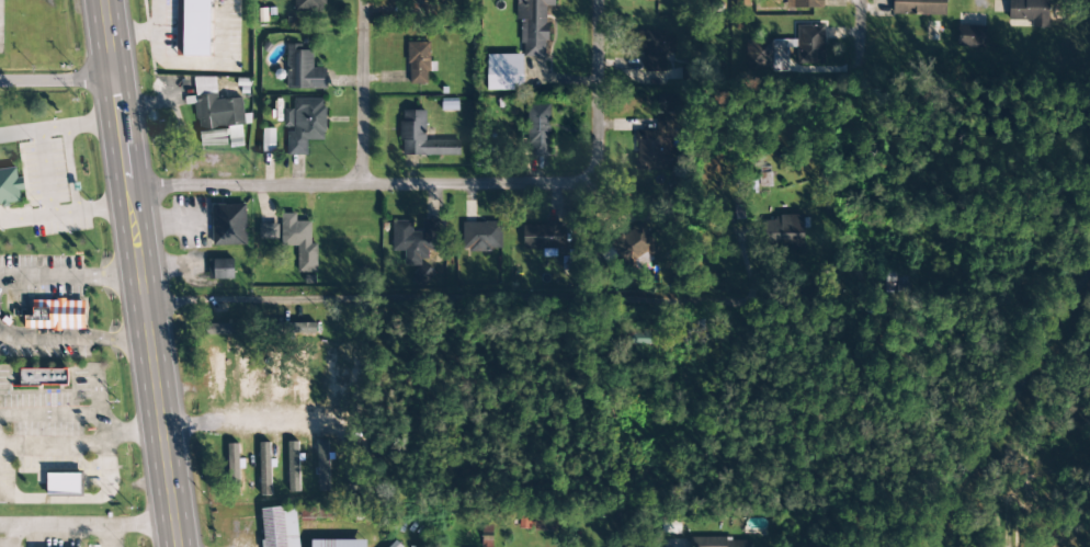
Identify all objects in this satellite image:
building: (741, 3)
building: (803, 3)
building: (308, 7)
building: (417, 7)
building: (918, 7)
building: (1029, 11)
building: (533, 26)
building: (192, 27)
building: (972, 36)
building: (654, 48)
building: (785, 50)
building: (419, 62)
building: (303, 69)
building: (503, 72)
road: (851, 73)
road: (57, 81)
road: (595, 90)
road: (359, 92)
building: (667, 104)
building: (217, 114)
building: (304, 124)
building: (537, 129)
building: (422, 137)
building: (268, 139)
building: (654, 146)
road: (357, 185)
building: (10, 186)
building: (228, 225)
building: (268, 231)
building: (785, 231)
building: (480, 236)
building: (542, 236)
building: (413, 240)
building: (299, 242)
building: (629, 247)
building: (220, 269)
road: (137, 273)
building: (895, 282)
road: (443, 301)
building: (55, 317)
building: (299, 329)
building: (638, 338)
building: (241, 375)
building: (43, 377)
building: (293, 378)
building: (338, 381)
road: (242, 414)
building: (236, 465)
building: (293, 467)
building: (264, 469)
building: (63, 483)
building: (670, 526)
building: (280, 527)
road: (1006, 533)
building: (720, 543)
building: (338, 544)
building: (395, 544)

